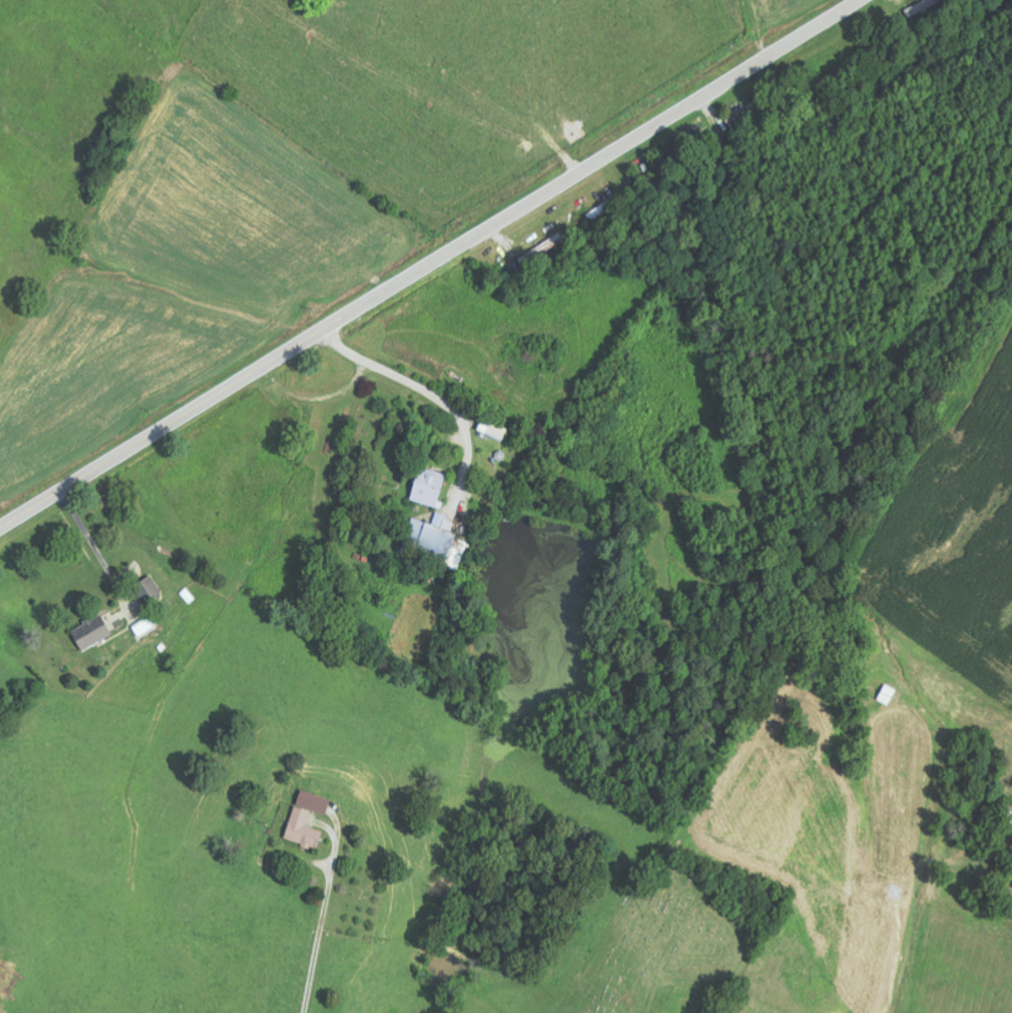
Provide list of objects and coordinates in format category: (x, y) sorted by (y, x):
road: (429, 264)
building: (426, 487)
building: (434, 537)
building: (151, 587)
building: (91, 633)
building: (888, 695)
building: (310, 802)
building: (299, 829)
road: (321, 921)
park: (661, 942)

